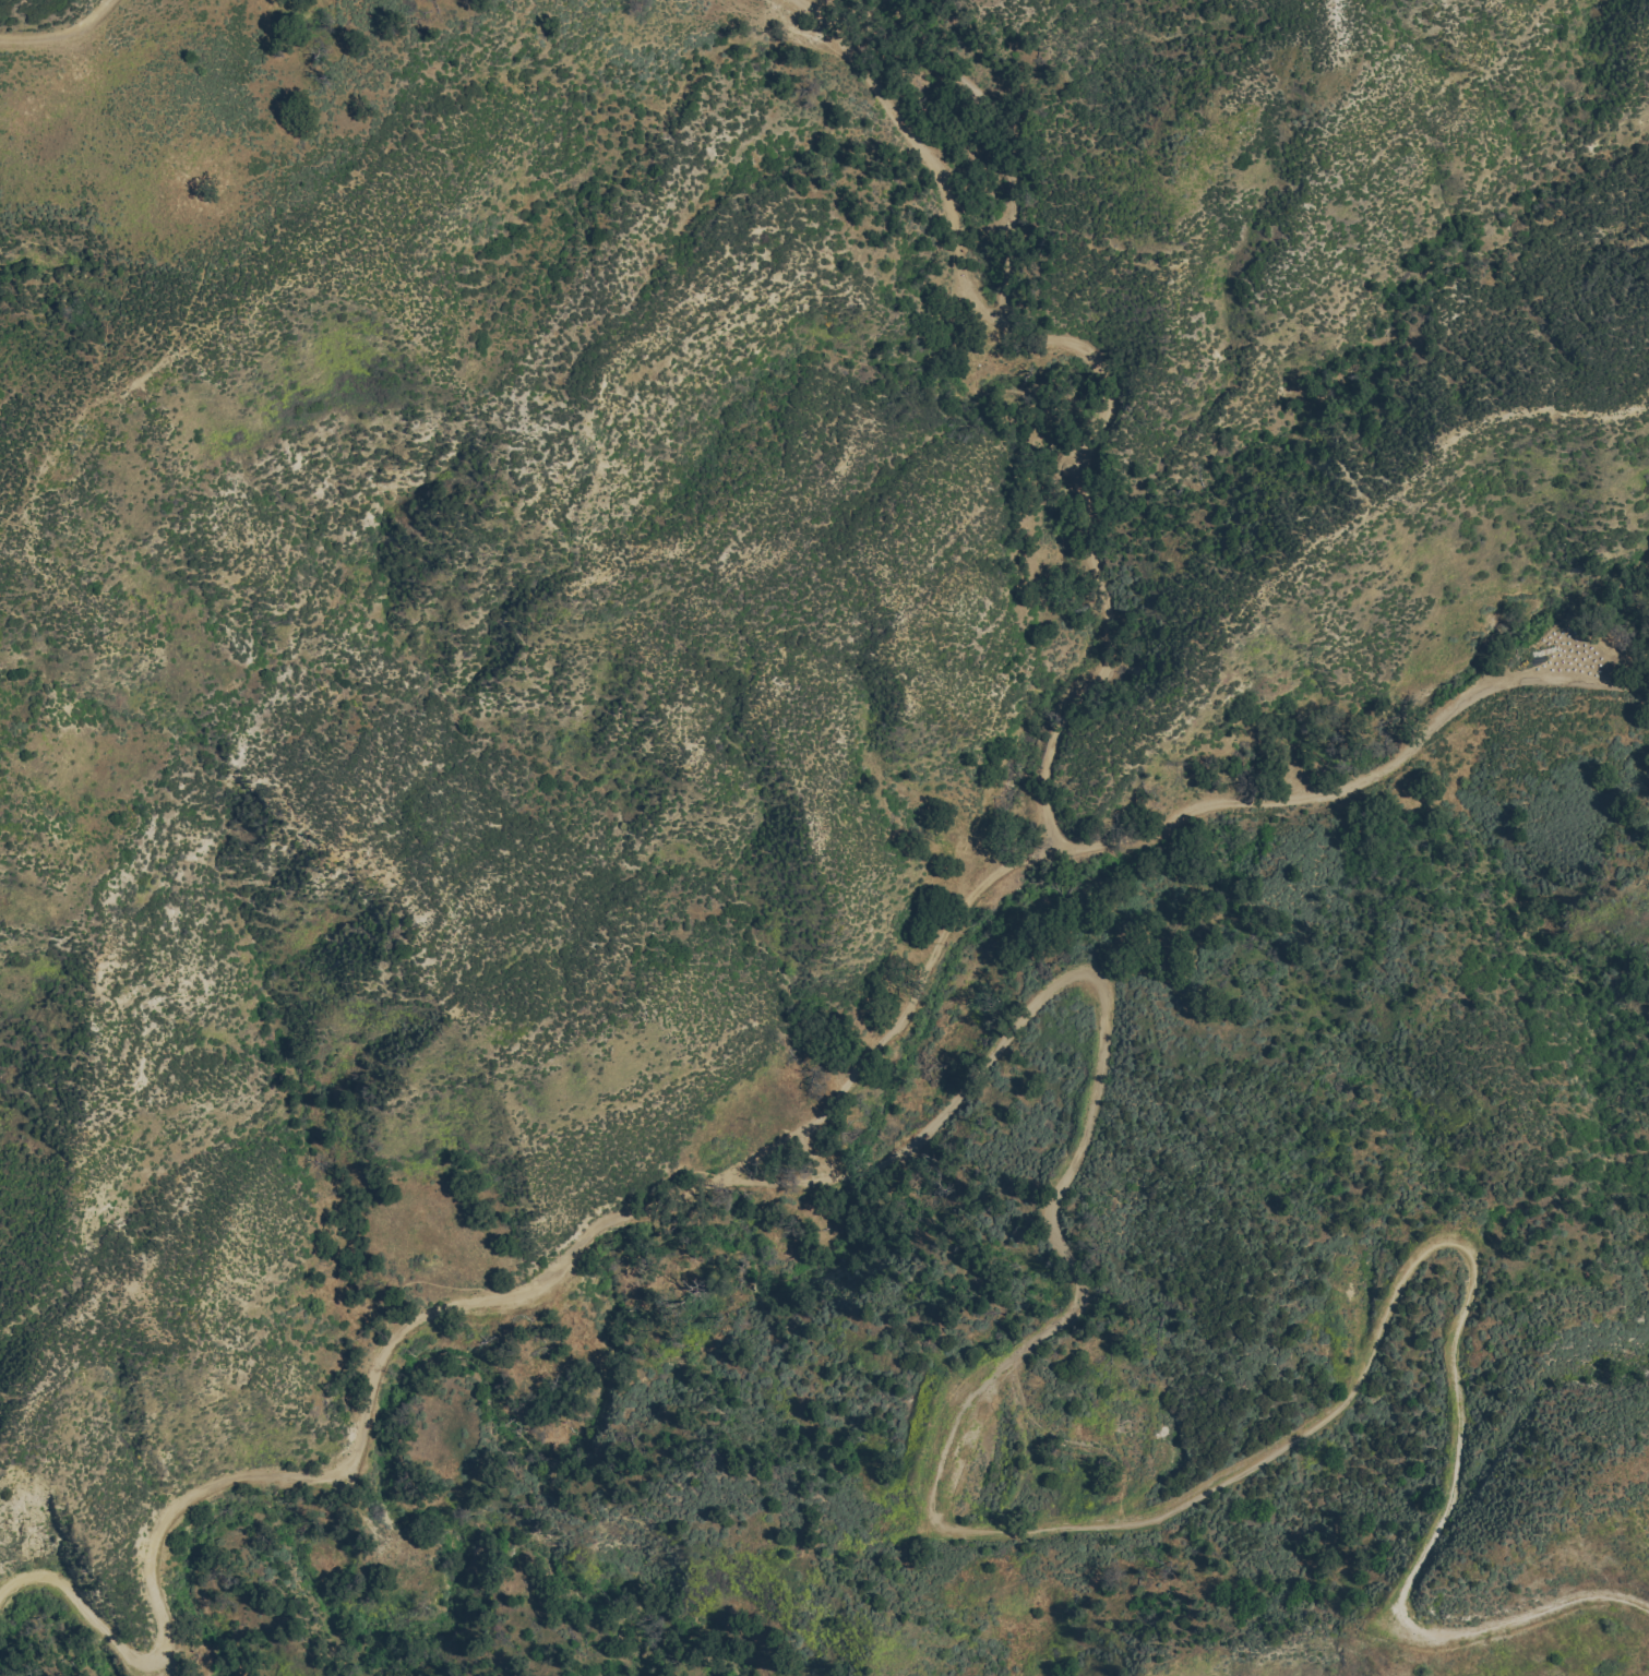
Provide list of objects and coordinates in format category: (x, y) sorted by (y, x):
road: (61, 36)
road: (921, 144)
road: (1115, 376)
road: (1289, 795)
road: (852, 1076)
road: (1062, 1176)

